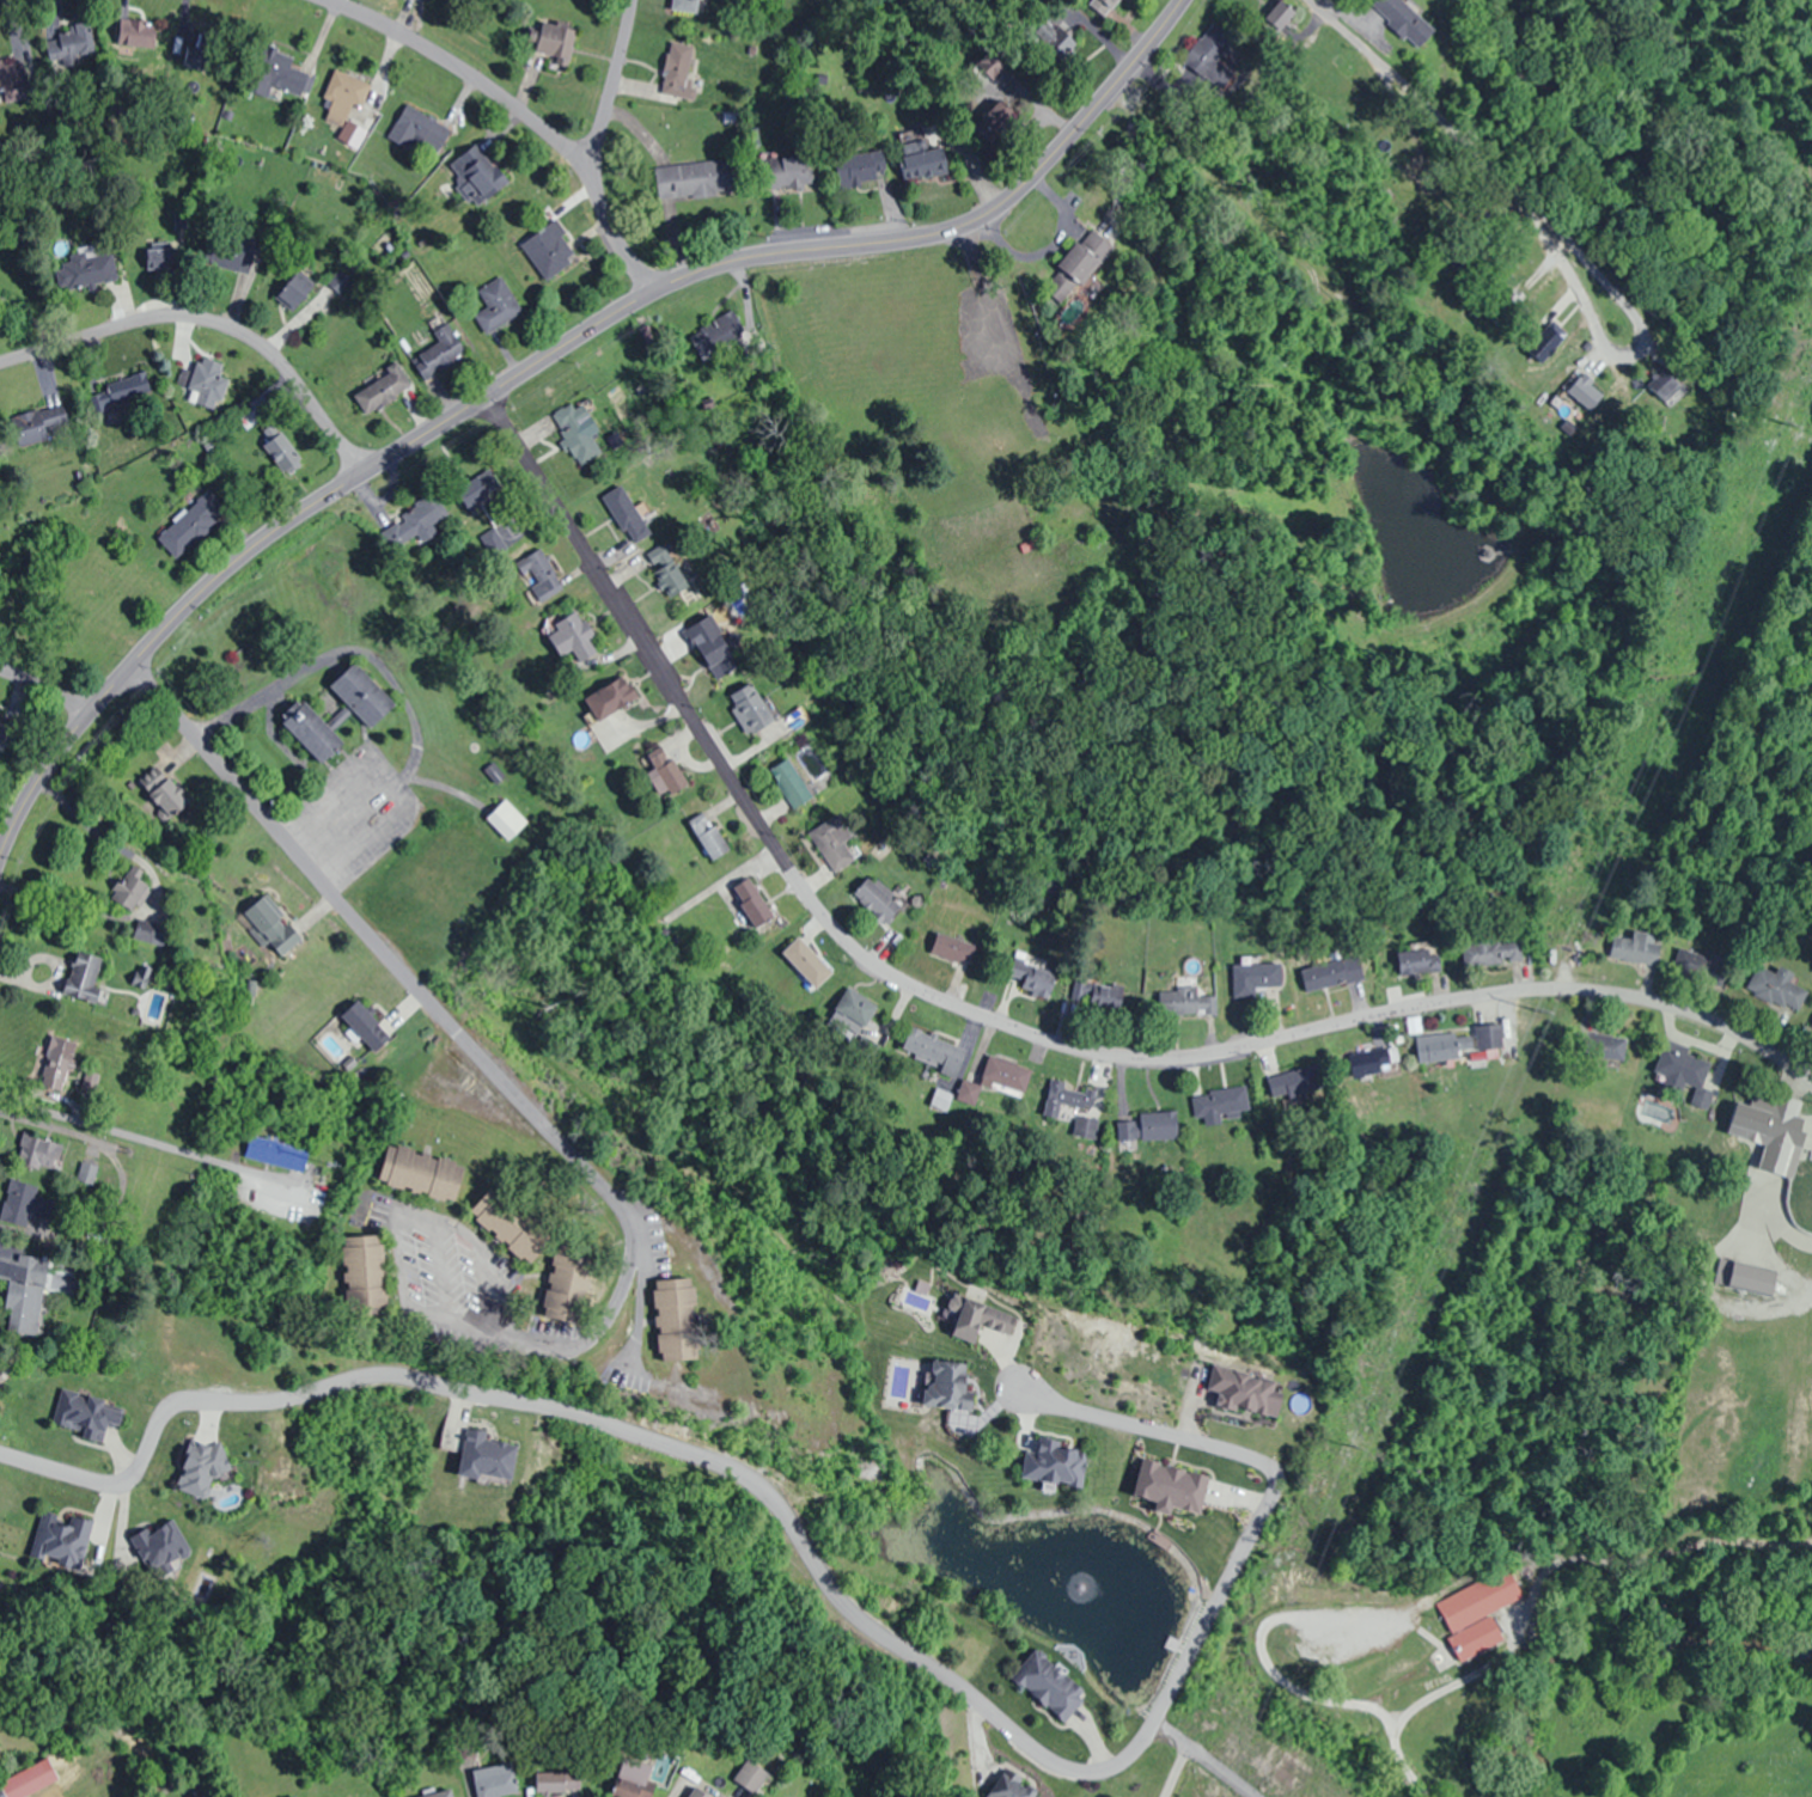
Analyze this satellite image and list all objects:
building: (687, 5)
building: (1104, 5)
building: (1405, 20)
building: (138, 31)
building: (551, 38)
building: (1053, 39)
building: (71, 41)
road: (1365, 47)
building: (678, 71)
building: (281, 75)
building: (984, 79)
building: (12, 80)
road: (609, 84)
building: (341, 96)
road: (519, 112)
building: (419, 132)
road: (1468, 137)
building: (923, 161)
building: (859, 167)
building: (789, 172)
building: (477, 177)
building: (696, 179)
road: (1538, 225)
road: (1569, 240)
building: (549, 249)
building: (227, 257)
building: (158, 258)
building: (1076, 265)
building: (87, 273)
building: (294, 289)
building: (494, 304)
road: (212, 319)
building: (722, 330)
road: (1606, 343)
building: (439, 352)
road: (548, 355)
building: (1587, 378)
building: (203, 383)
building: (1670, 384)
building: (380, 389)
building: (118, 391)
building: (39, 424)
building: (576, 438)
building: (281, 450)
building: (474, 493)
building: (628, 513)
building: (191, 522)
building: (414, 524)
building: (493, 540)
road: (593, 563)
building: (666, 570)
building: (539, 572)
building: (574, 637)
building: (718, 654)
road: (47, 689)
building: (616, 695)
building: (362, 696)
building: (751, 709)
building: (312, 729)
building: (663, 769)
building: (792, 783)
building: (506, 819)
road: (269, 825)
building: (708, 835)
building: (834, 842)
building: (1055, 885)
building: (128, 891)
building: (877, 900)
building: (754, 901)
building: (273, 924)
building: (148, 933)
building: (952, 948)
building: (1636, 948)
building: (1493, 951)
building: (1414, 961)
building: (807, 962)
building: (1332, 973)
building: (1035, 974)
building: (81, 976)
building: (1255, 977)
building: (1776, 988)
building: (1098, 995)
building: (1185, 1001)
building: (856, 1007)
building: (1811, 1022)
building: (366, 1026)
building: (1490, 1035)
building: (1439, 1047)
building: (933, 1050)
road: (1201, 1052)
building: (1372, 1058)
building: (1007, 1072)
building: (1686, 1072)
building: (57, 1076)
building: (87, 1078)
building: (1298, 1082)
building: (1073, 1098)
building: (1220, 1104)
building: (1759, 1120)
building: (1158, 1125)
building: (36, 1153)
building: (276, 1155)
road: (585, 1171)
building: (86, 1172)
building: (421, 1172)
building: (24, 1205)
building: (506, 1230)
road: (396, 1254)
building: (365, 1270)
building: (1746, 1278)
building: (565, 1289)
building: (24, 1292)
building: (675, 1315)
building: (977, 1319)
building: (948, 1386)
building: (1245, 1392)
building: (89, 1414)
building: (480, 1454)
building: (1057, 1465)
building: (202, 1469)
building: (62, 1539)
road: (829, 1587)
building: (1477, 1613)
building: (1049, 1686)
building: (751, 1777)
building: (633, 1779)
building: (29, 1781)
building: (494, 1781)
building: (557, 1783)
building: (1012, 1785)
building: (295, 1796)
building: (429, 1796)

